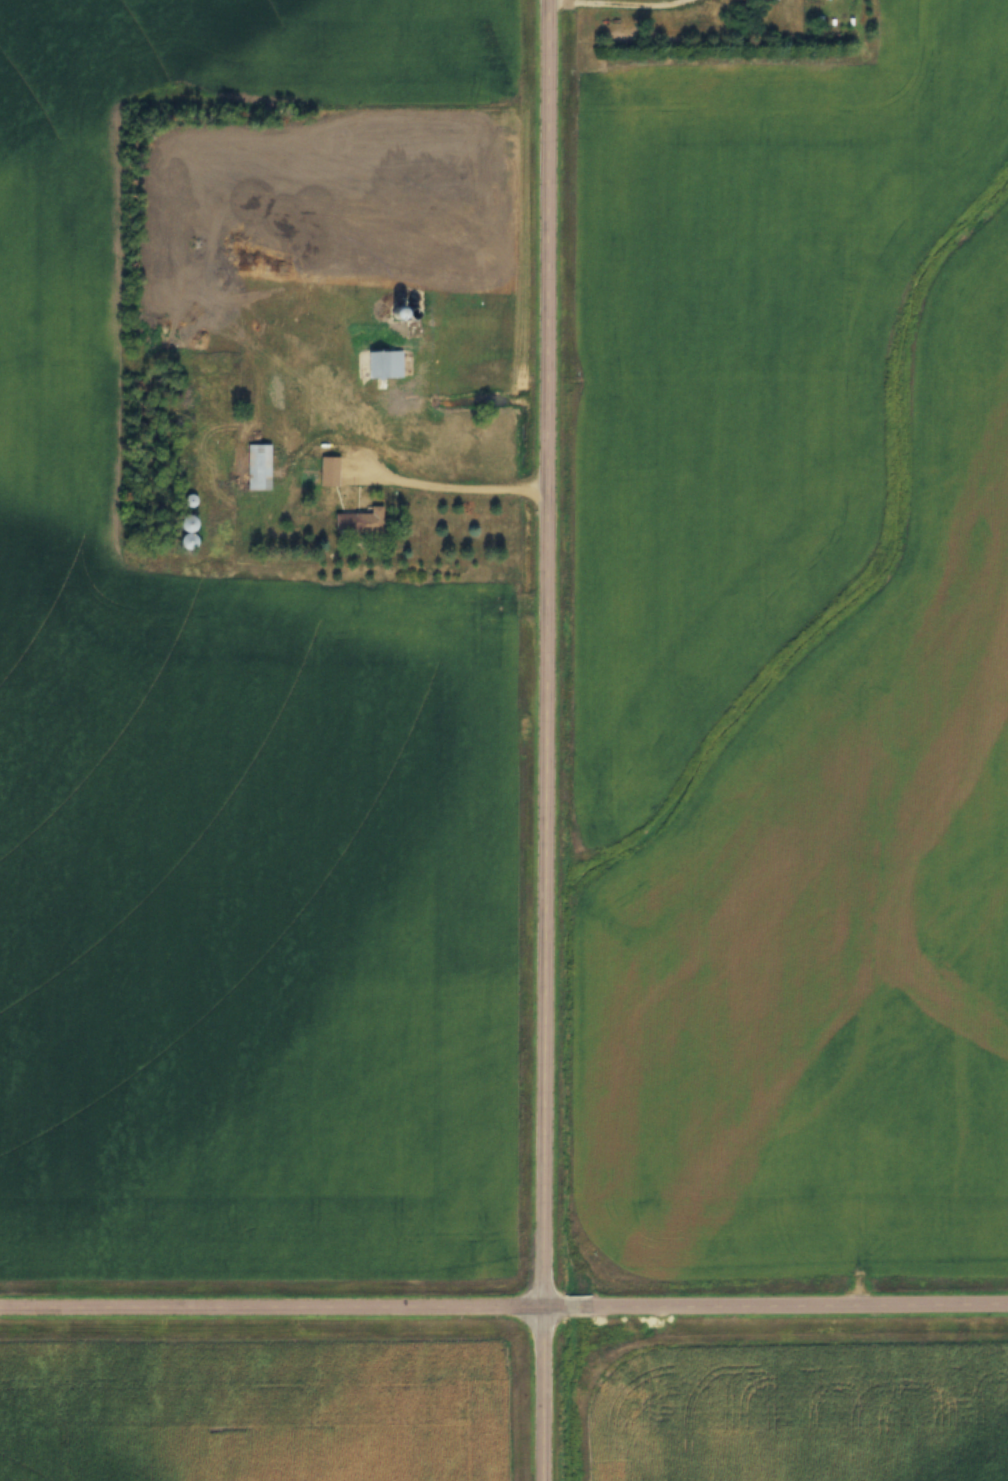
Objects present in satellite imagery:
road: (613, 2)
building: (417, 239)
building: (382, 362)
building: (260, 464)
building: (327, 469)
road: (464, 490)
building: (246, 497)
building: (358, 519)
road: (545, 740)
road: (504, 1310)

